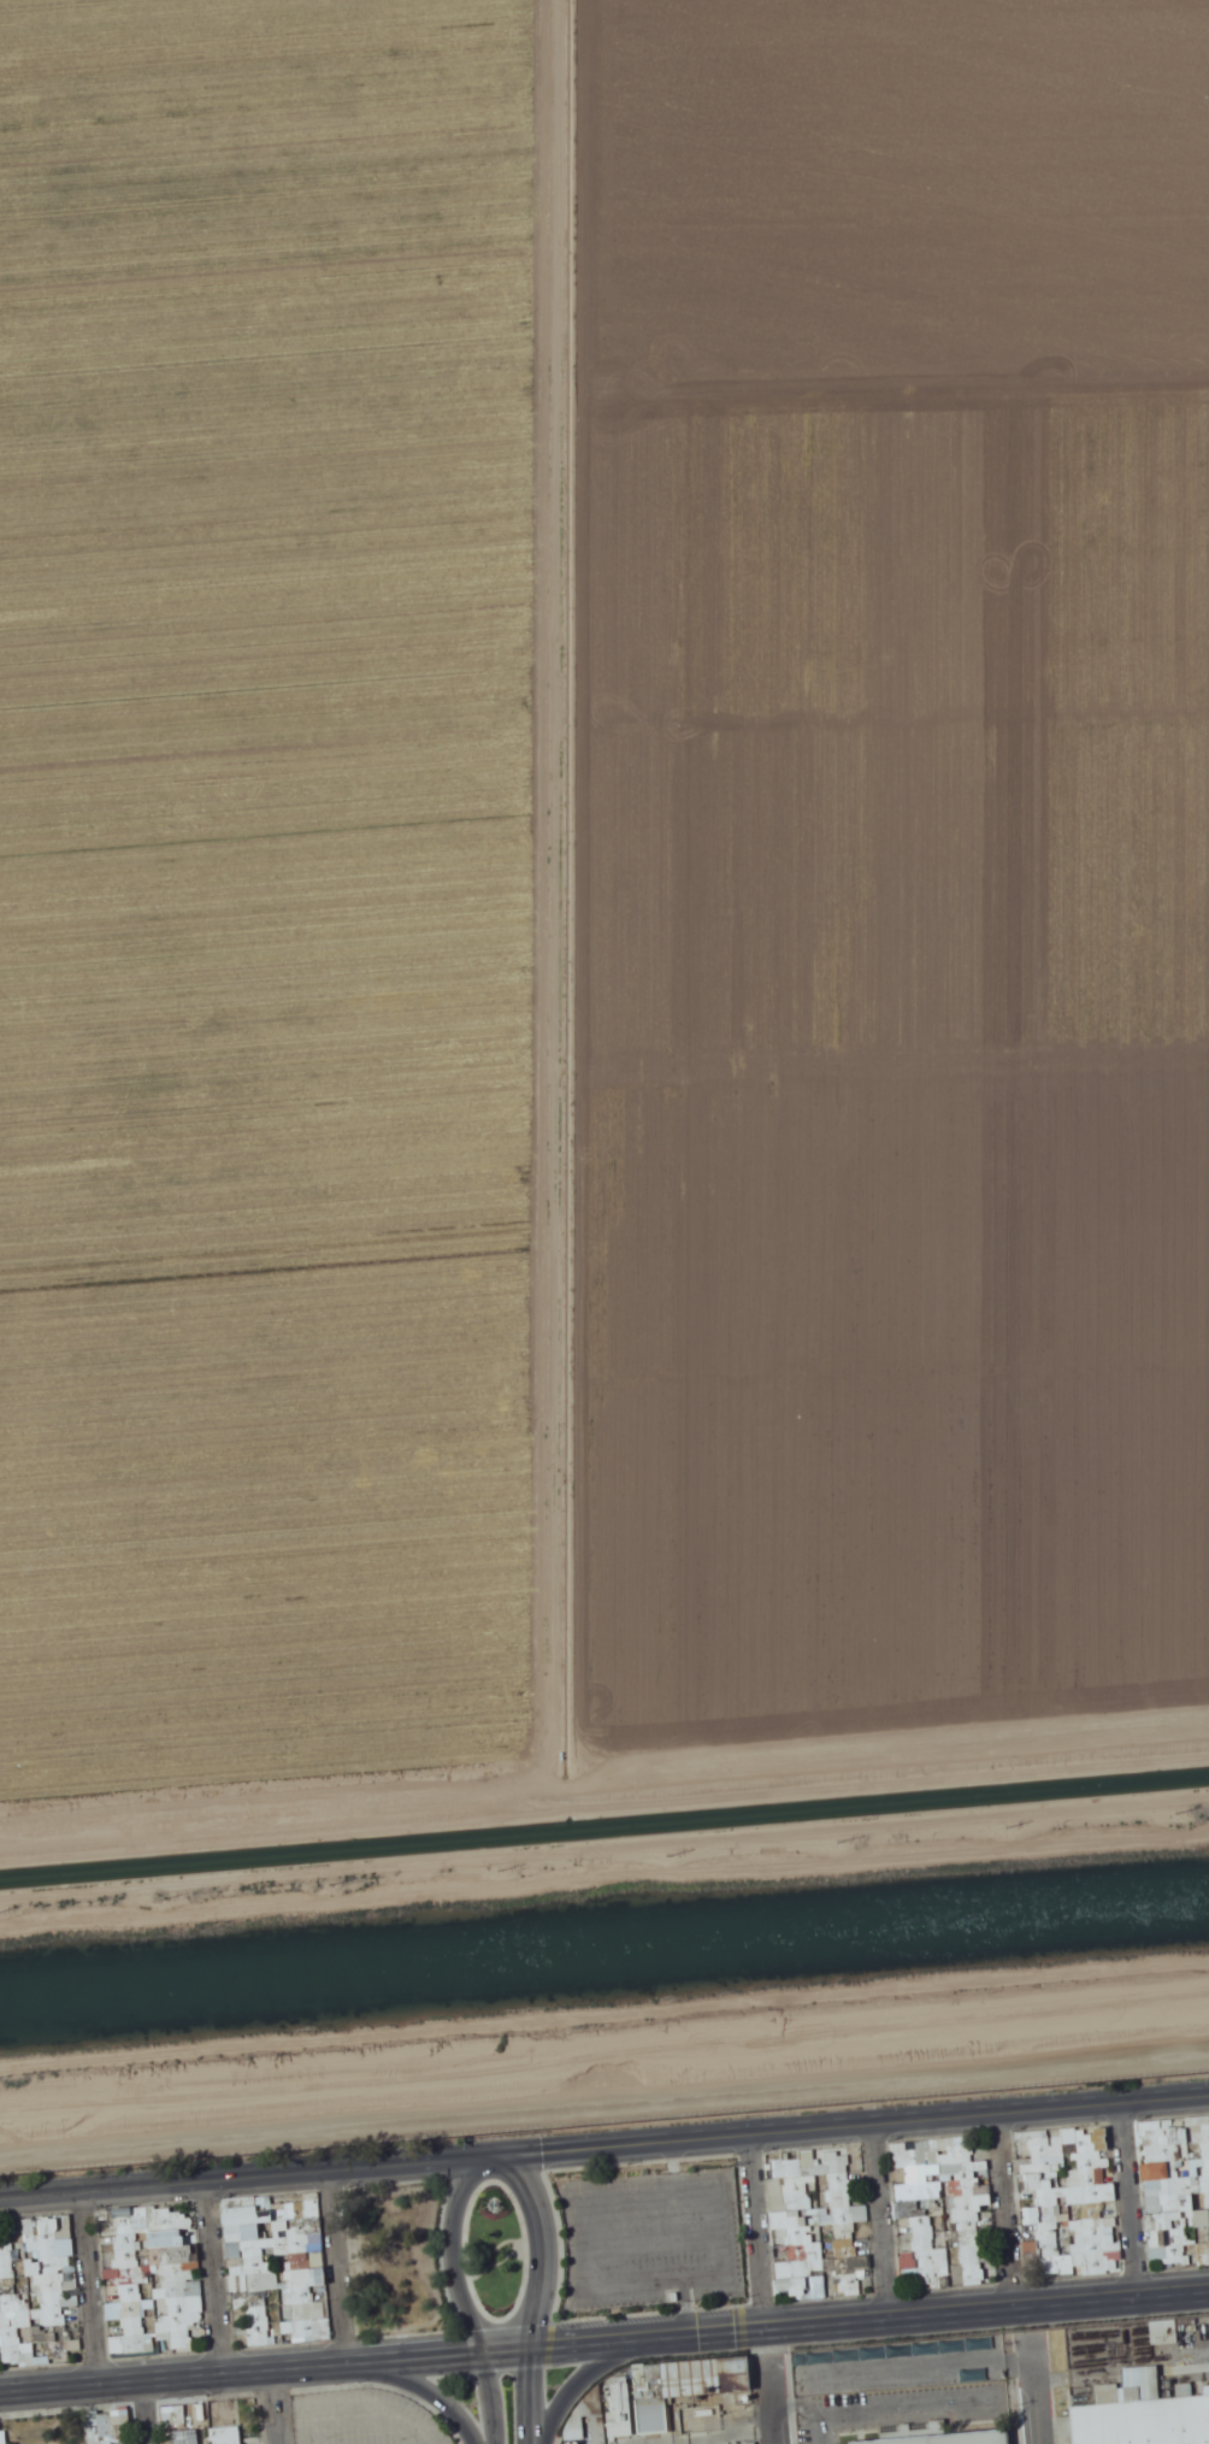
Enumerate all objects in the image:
road: (603, 2149)
building: (1154, 2171)
road: (1133, 2202)
road: (1012, 2212)
road: (883, 2224)
road: (757, 2233)
building: (807, 2252)
road: (343, 2268)
road: (214, 2279)
building: (790, 2283)
road: (90, 2290)
building: (307, 2292)
road: (541, 2296)
road: (461, 2299)
road: (604, 2344)
road: (586, 2378)
building: (691, 2378)
road: (426, 2387)
road: (1040, 2398)
building: (619, 2403)
road: (276, 2408)
road: (773, 2409)
road: (147, 2413)
building: (1145, 2415)
building: (376, 2418)
building: (944, 2438)

